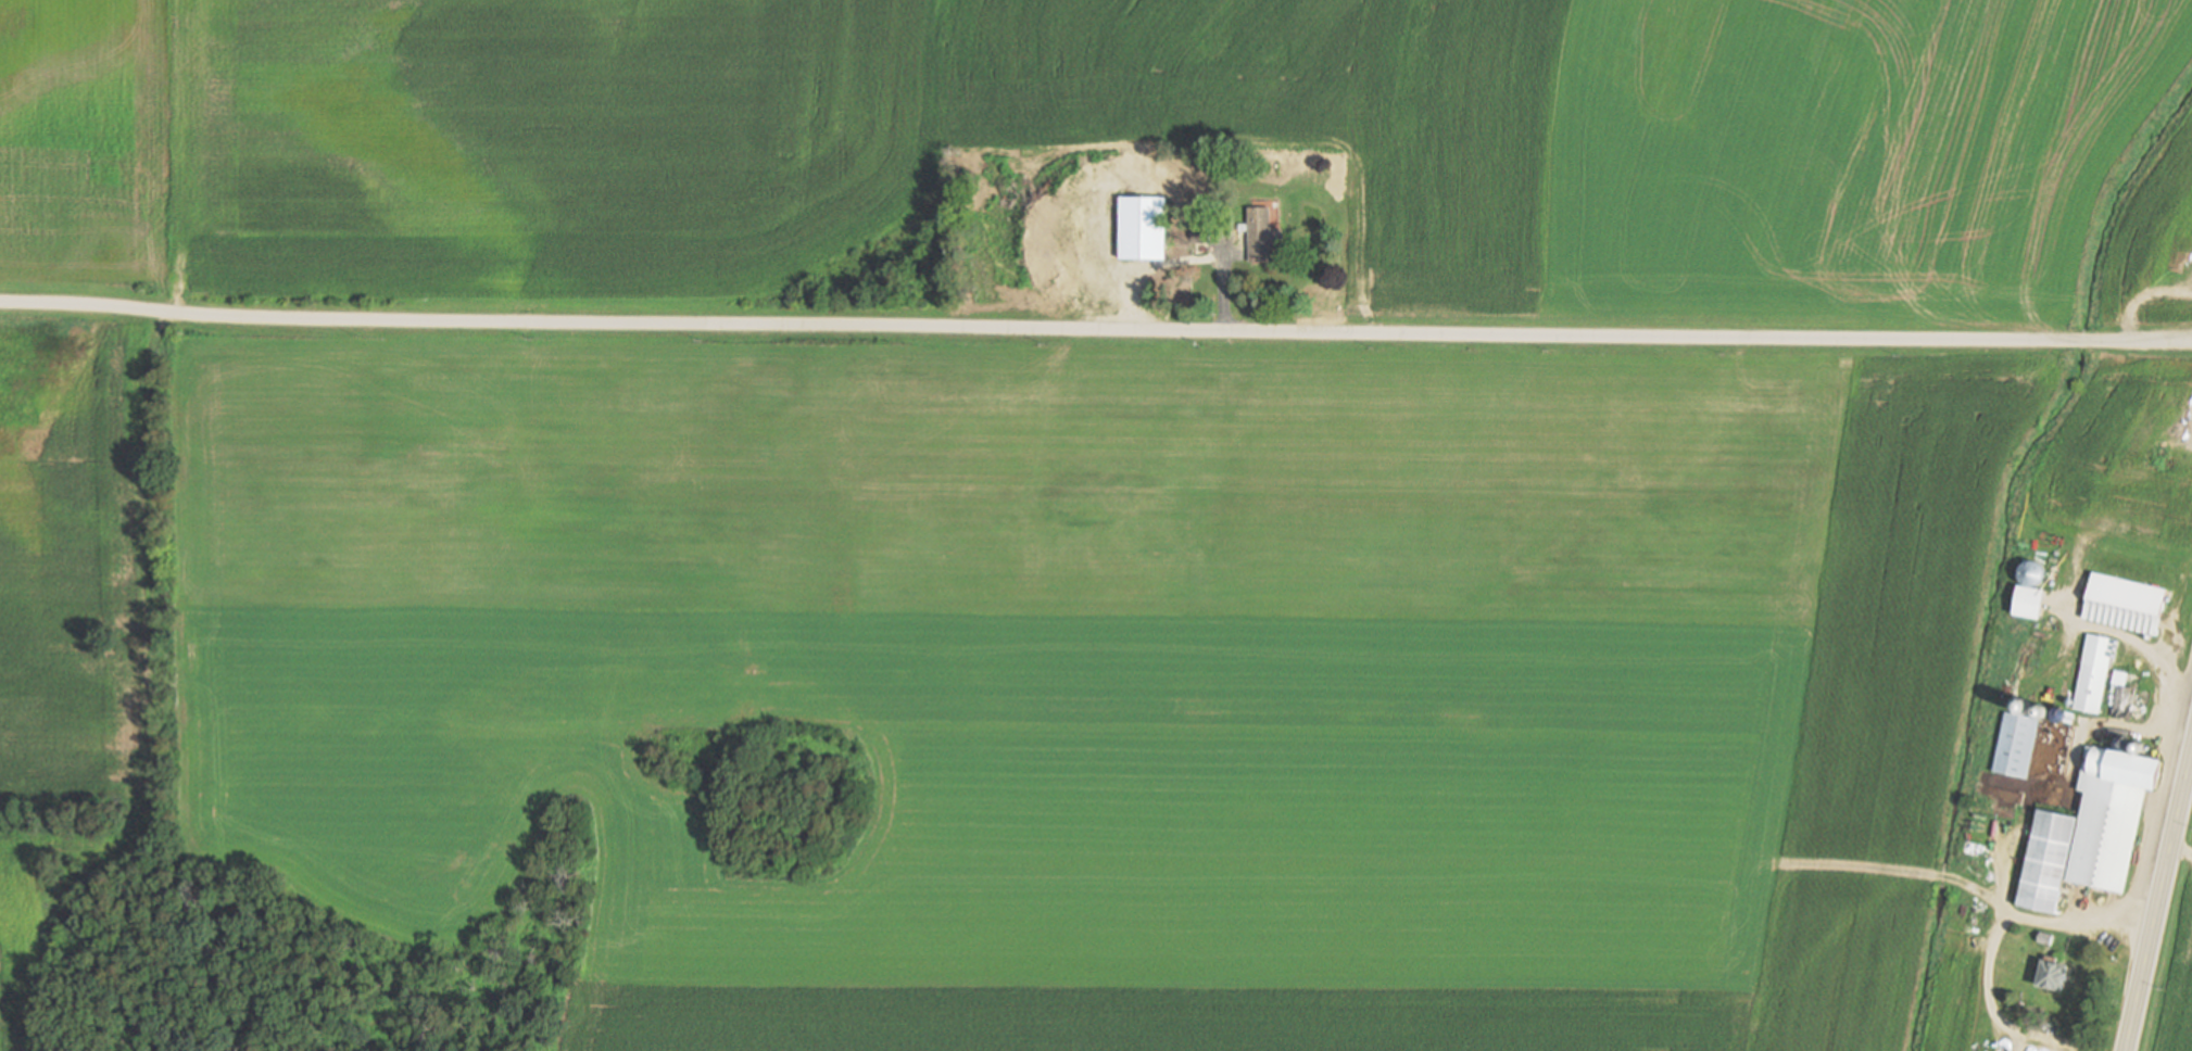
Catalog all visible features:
building: (1144, 225)
building: (1202, 230)
building: (1262, 235)
building: (1200, 267)
road: (1095, 331)
building: (2031, 603)
building: (2125, 603)
building: (2094, 674)
building: (2128, 695)
building: (2070, 717)
building: (2017, 745)
building: (2112, 814)
building: (2046, 861)
road: (2158, 902)
building: (2048, 938)
building: (2054, 974)
crop: (2179, 995)

